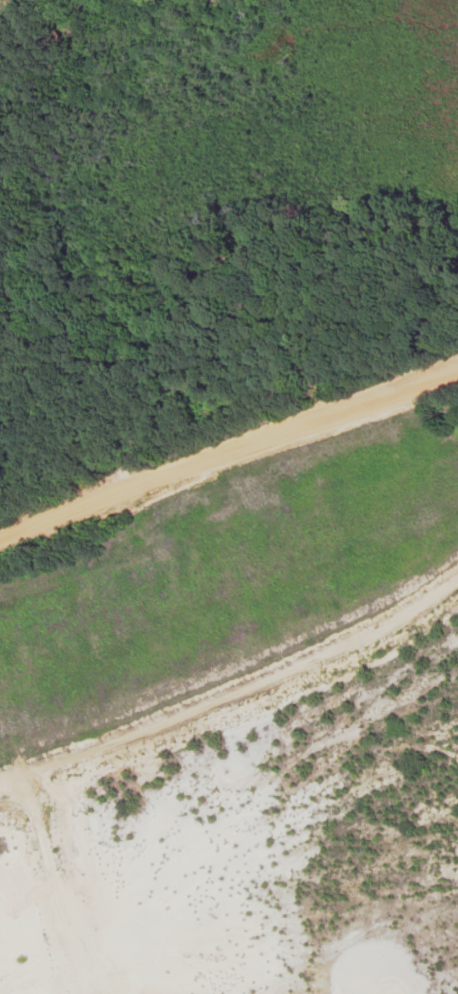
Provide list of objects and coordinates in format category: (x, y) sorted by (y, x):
road: (230, 455)

